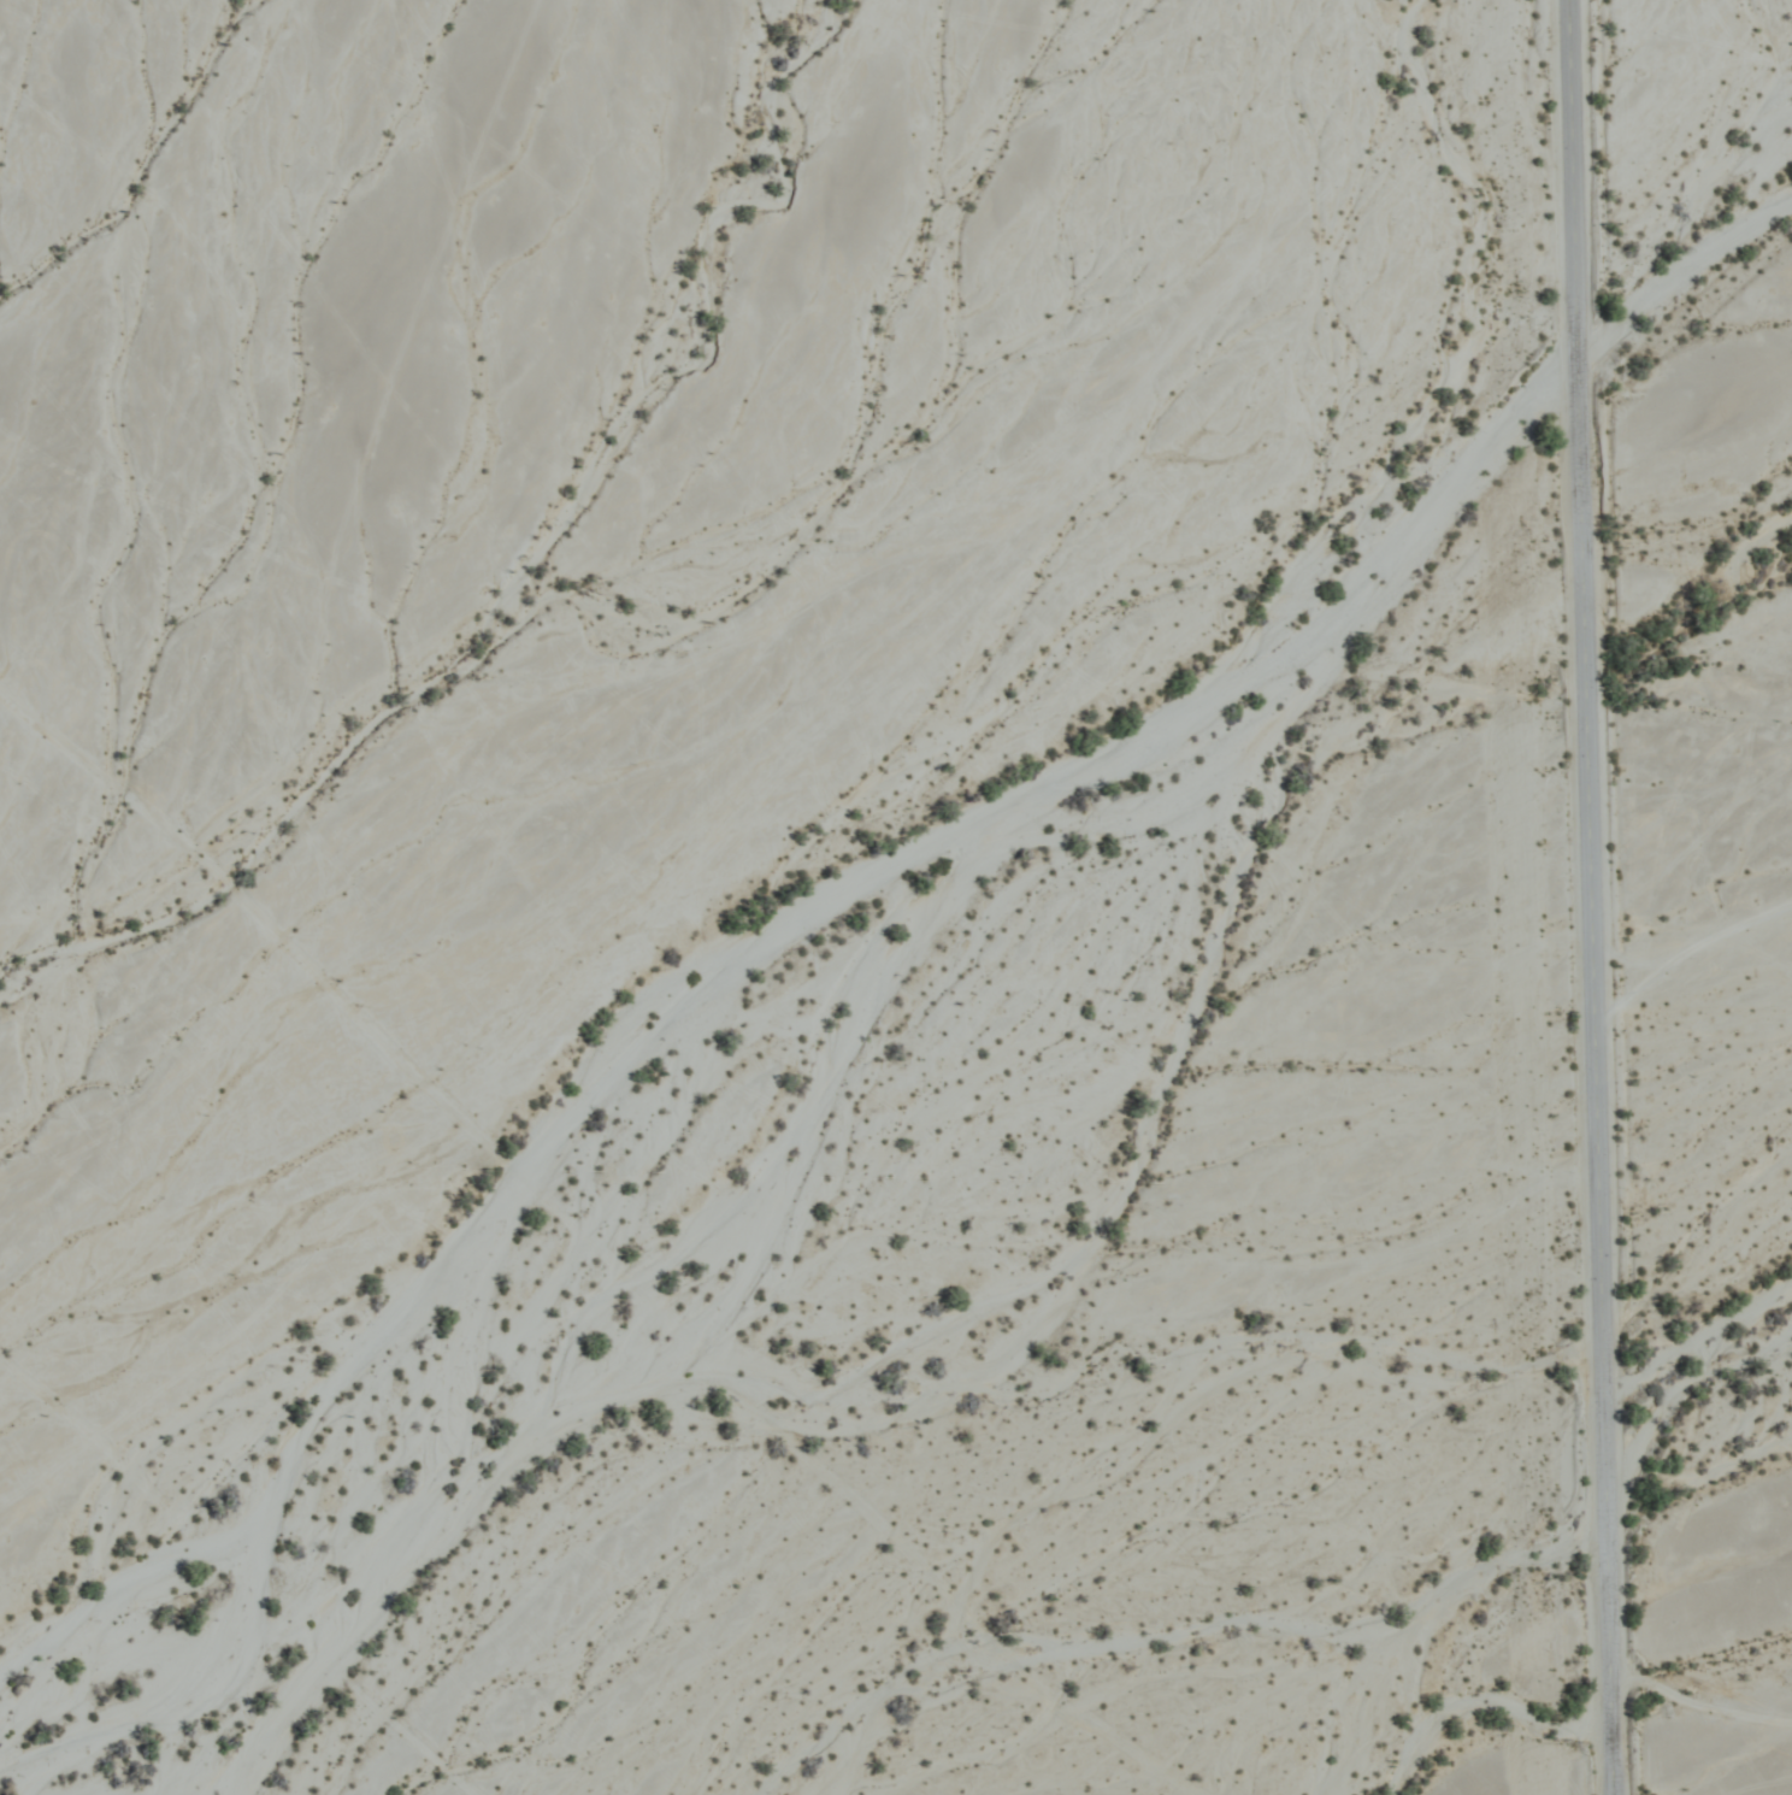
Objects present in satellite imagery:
road: (1591, 897)

